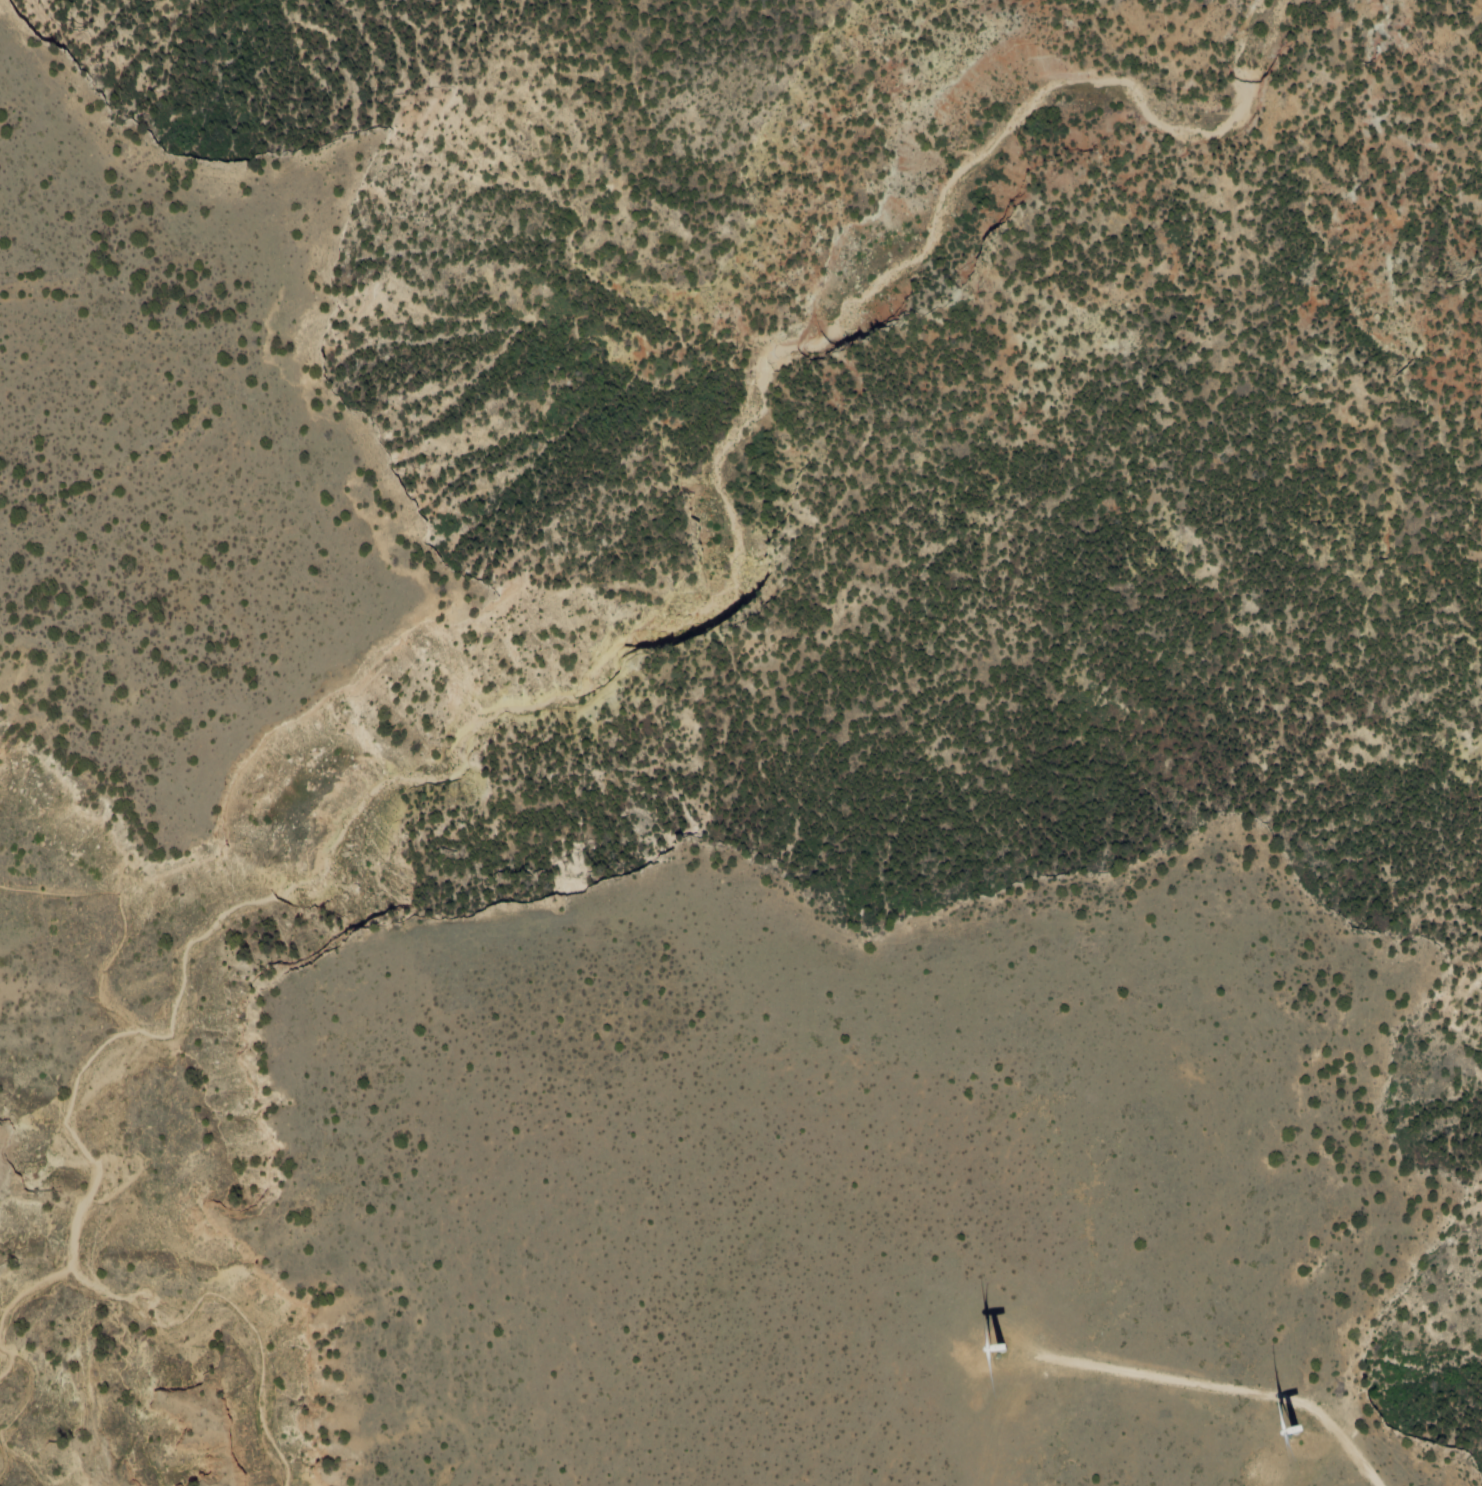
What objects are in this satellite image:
wind turbine: (998, 1349)
road: (1220, 1387)
wind turbine: (1291, 1432)

